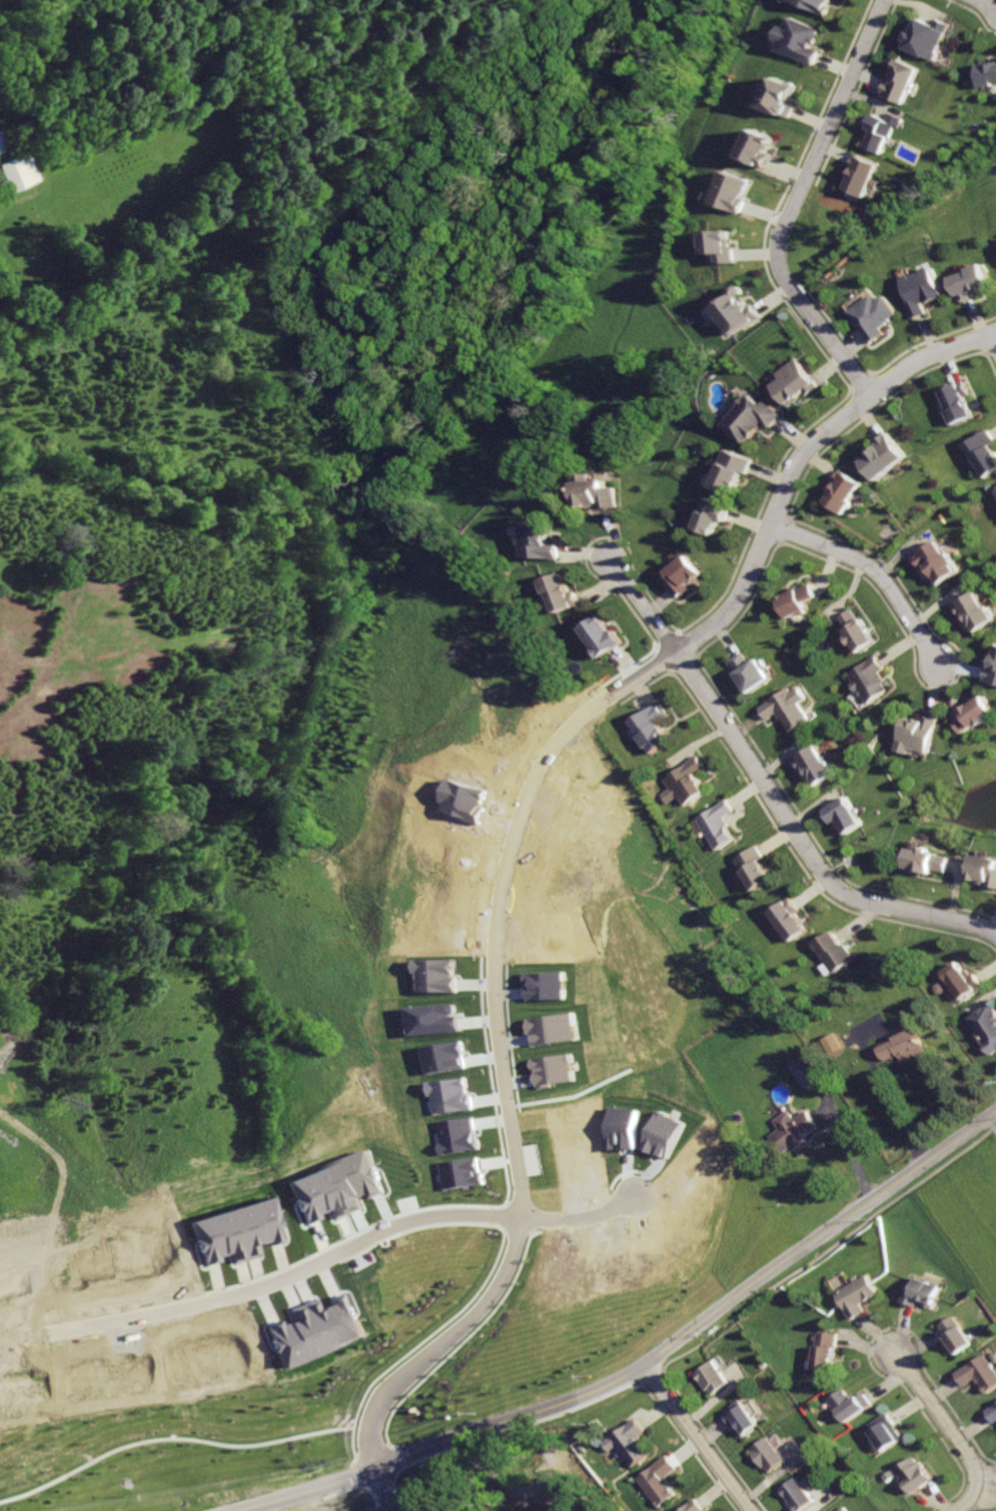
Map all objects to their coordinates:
road: (987, 3)
building: (814, 4)
building: (927, 37)
building: (796, 38)
building: (990, 74)
building: (902, 80)
building: (776, 97)
building: (883, 131)
building: (756, 147)
building: (1, 148)
building: (17, 171)
building: (861, 175)
building: (733, 191)
road: (789, 203)
building: (724, 246)
building: (976, 281)
building: (927, 290)
building: (737, 310)
building: (875, 316)
road: (995, 334)
building: (795, 381)
building: (959, 401)
building: (748, 419)
road: (833, 426)
building: (982, 452)
building: (883, 456)
building: (730, 471)
building: (840, 490)
building: (995, 490)
building: (600, 492)
building: (712, 515)
building: (540, 542)
building: (934, 561)
road: (874, 572)
building: (681, 576)
building: (560, 592)
building: (795, 599)
building: (975, 610)
building: (854, 630)
building: (601, 637)
road: (680, 648)
building: (749, 671)
building: (993, 674)
building: (868, 679)
building: (786, 708)
building: (978, 714)
building: (650, 727)
building: (920, 733)
building: (814, 764)
building: (683, 782)
road: (768, 794)
building: (844, 813)
building: (715, 823)
building: (928, 859)
building: (754, 867)
building: (987, 869)
building: (789, 919)
road: (493, 941)
building: (834, 952)
building: (438, 974)
building: (965, 980)
building: (546, 984)
building: (988, 1026)
building: (555, 1028)
building: (836, 1042)
building: (905, 1044)
building: (807, 1071)
road: (884, 1080)
road: (824, 1111)
road: (991, 1125)
building: (790, 1129)
building: (457, 1135)
road: (509, 1159)
parking lot: (526, 1159)
road: (503, 1160)
road: (489, 1162)
road: (841, 1168)
building: (460, 1173)
road: (503, 1175)
building: (336, 1187)
flagpole: (496, 1191)
flagpole: (492, 1193)
road: (463, 1205)
road: (500, 1215)
road: (576, 1217)
building: (237, 1227)
road: (513, 1230)
road: (532, 1231)
road: (830, 1248)
building: (115, 1260)
road: (287, 1276)
building: (918, 1292)
building: (857, 1295)
road: (702, 1324)
building: (310, 1326)
building: (953, 1333)
road: (413, 1343)
road: (434, 1345)
road: (453, 1346)
building: (208, 1352)
building: (831, 1353)
road: (661, 1368)
building: (976, 1373)
building: (107, 1375)
road: (650, 1375)
building: (716, 1378)
road: (640, 1383)
building: (25, 1387)
building: (854, 1406)
building: (991, 1412)
building: (749, 1419)
road: (345, 1421)
road: (505, 1429)
building: (888, 1431)
road: (951, 1432)
road: (169, 1438)
road: (697, 1438)
building: (626, 1442)
road: (541, 1444)
road: (369, 1450)
building: (774, 1456)
road: (398, 1457)
road: (353, 1474)
building: (918, 1475)
building: (657, 1481)
road: (379, 1483)
road: (355, 1486)
building: (566, 1488)
road: (384, 1490)
road: (309, 1494)
building: (803, 1495)
park: (339, 1498)
road: (385, 1500)
road: (370, 1505)
road: (323, 1506)
building: (690, 1506)
building: (849, 1509)

